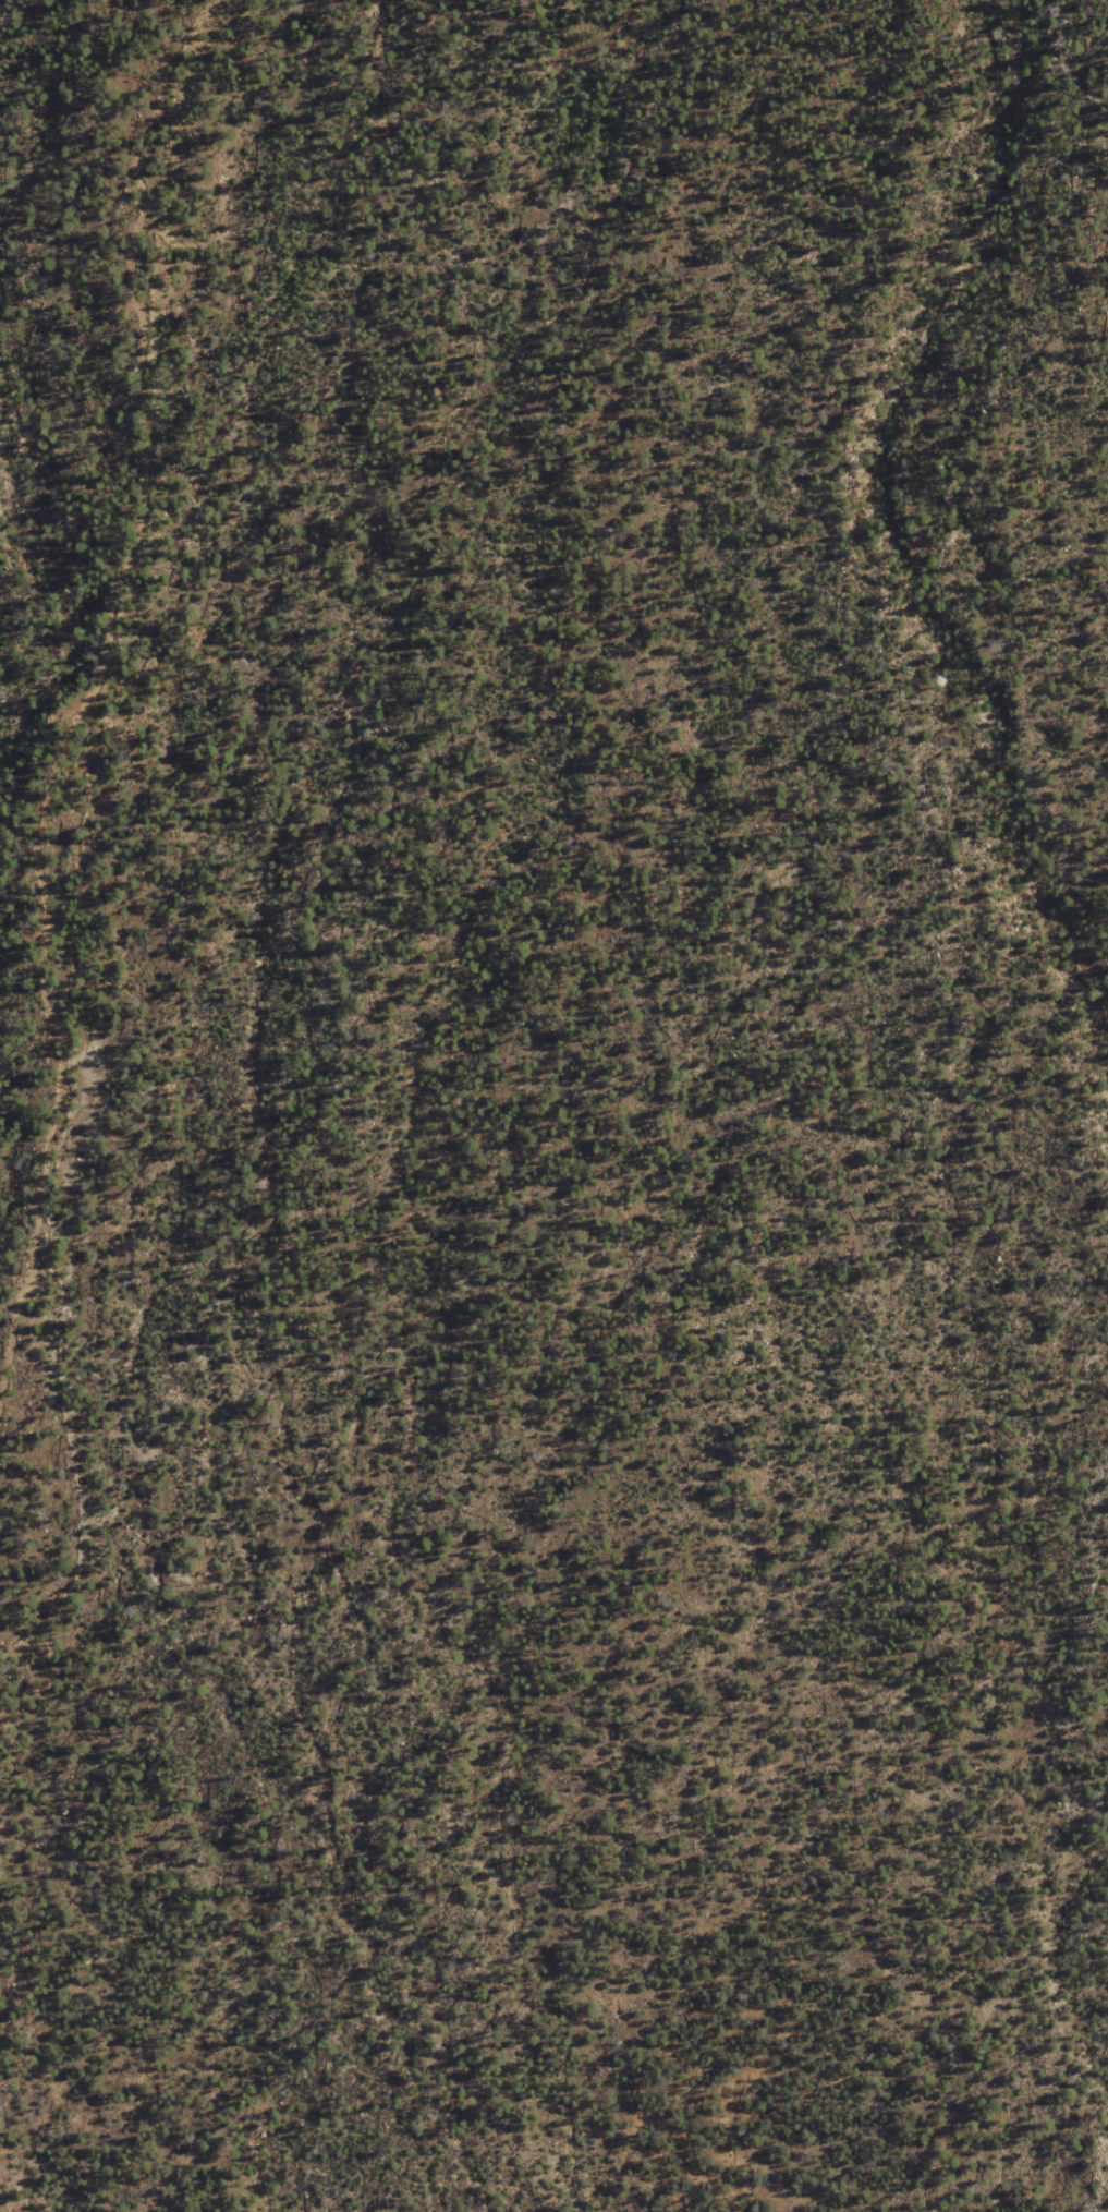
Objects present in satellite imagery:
road: (580, 512)

